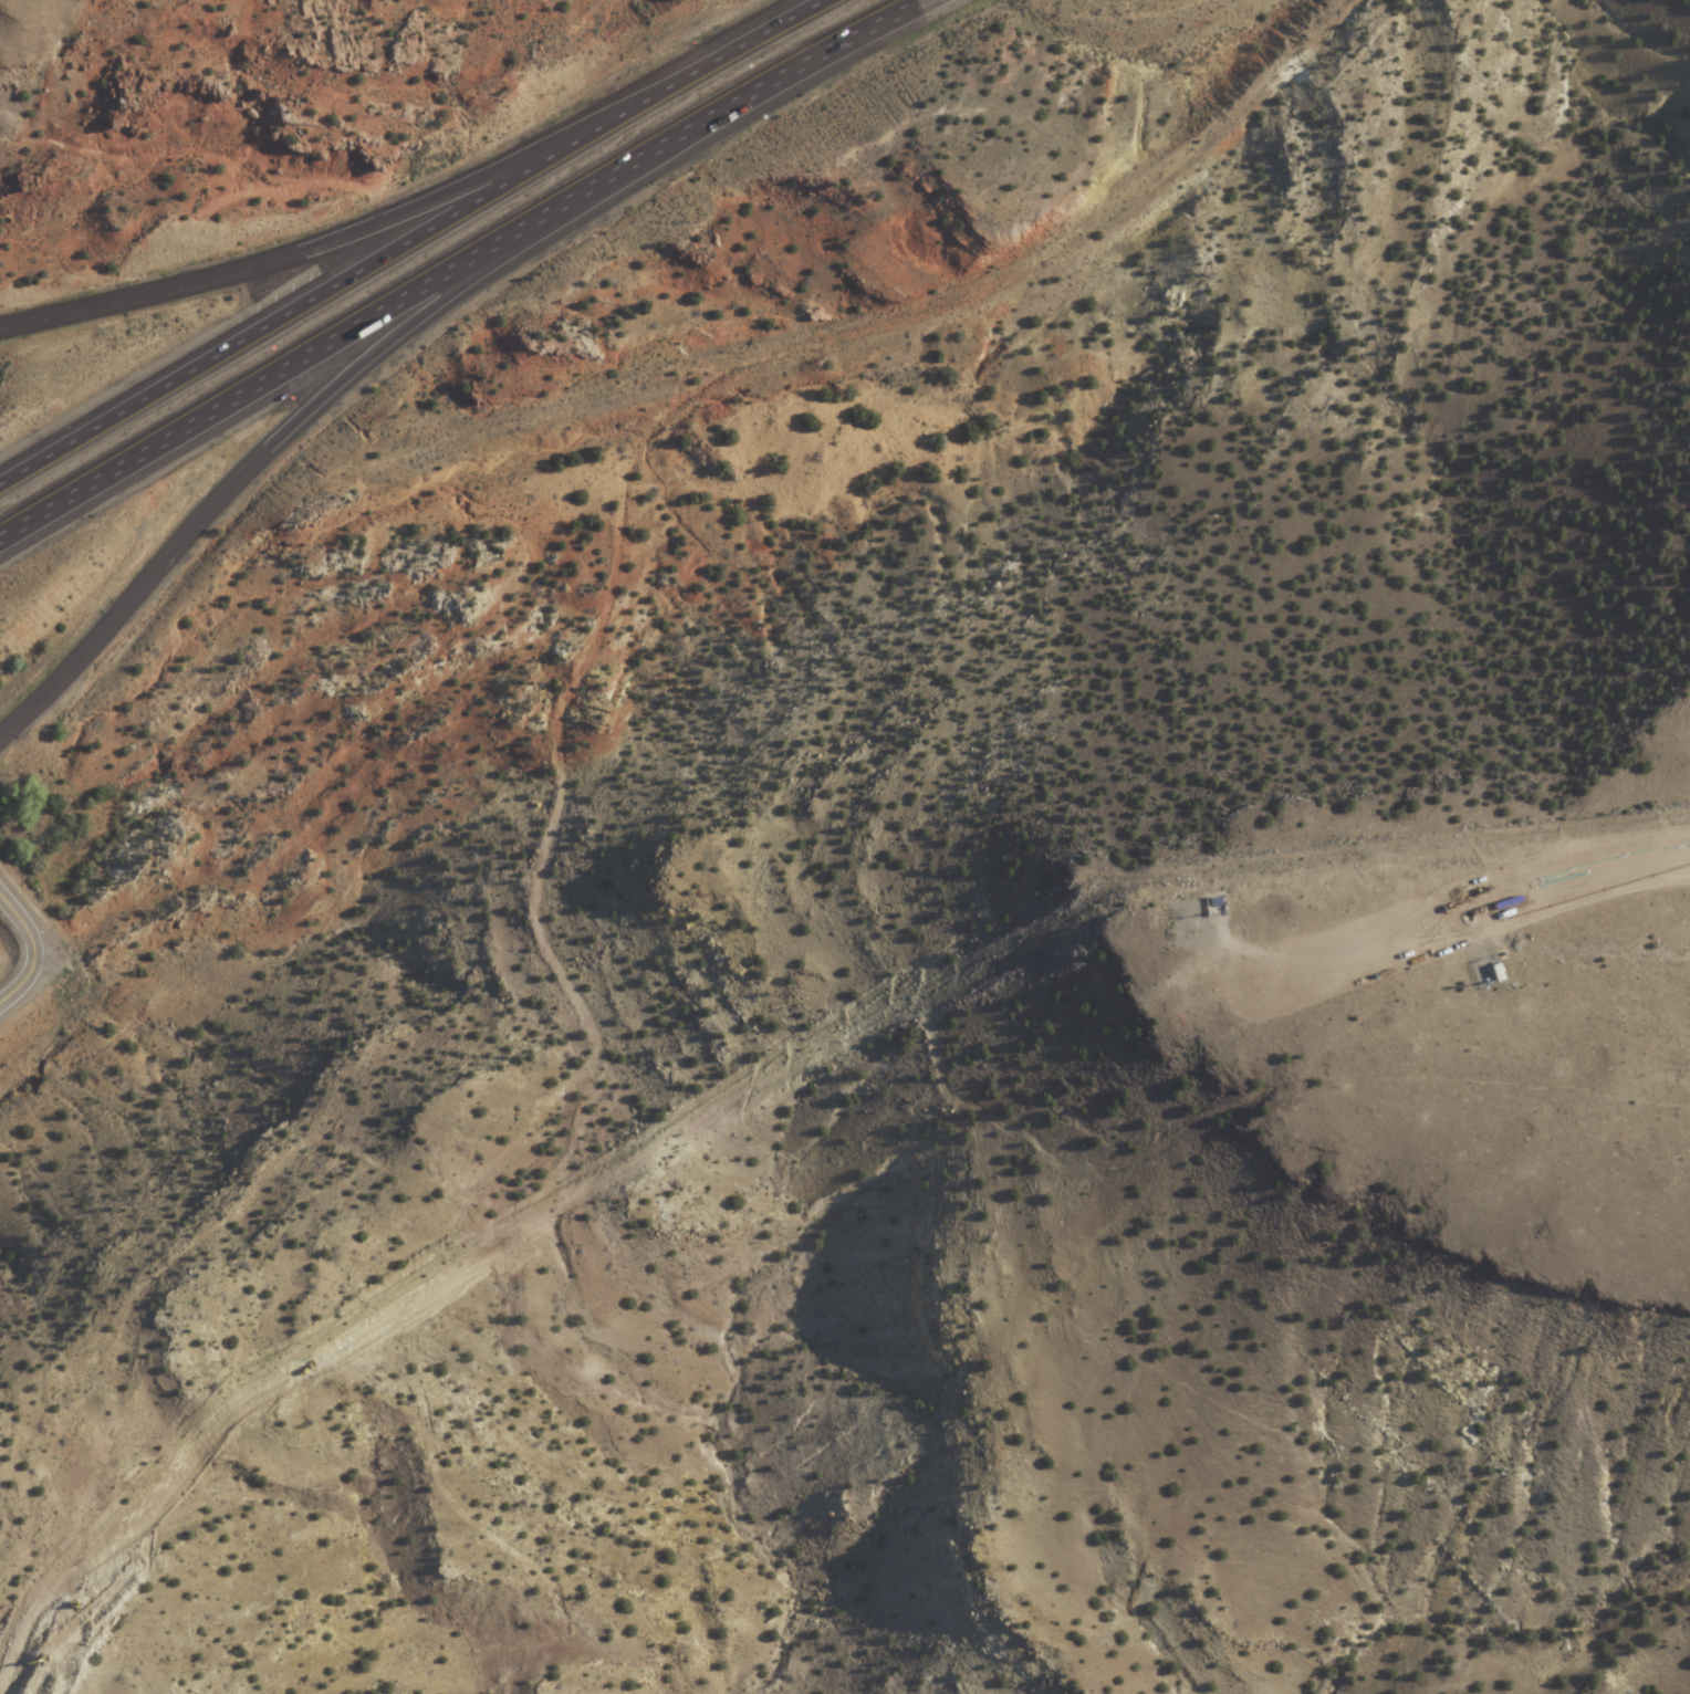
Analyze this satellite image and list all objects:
road: (417, 238)
road: (313, 252)
road: (462, 265)
road: (272, 456)
building: (1193, 913)
road: (1610, 947)
road: (35, 952)
building: (1493, 974)

